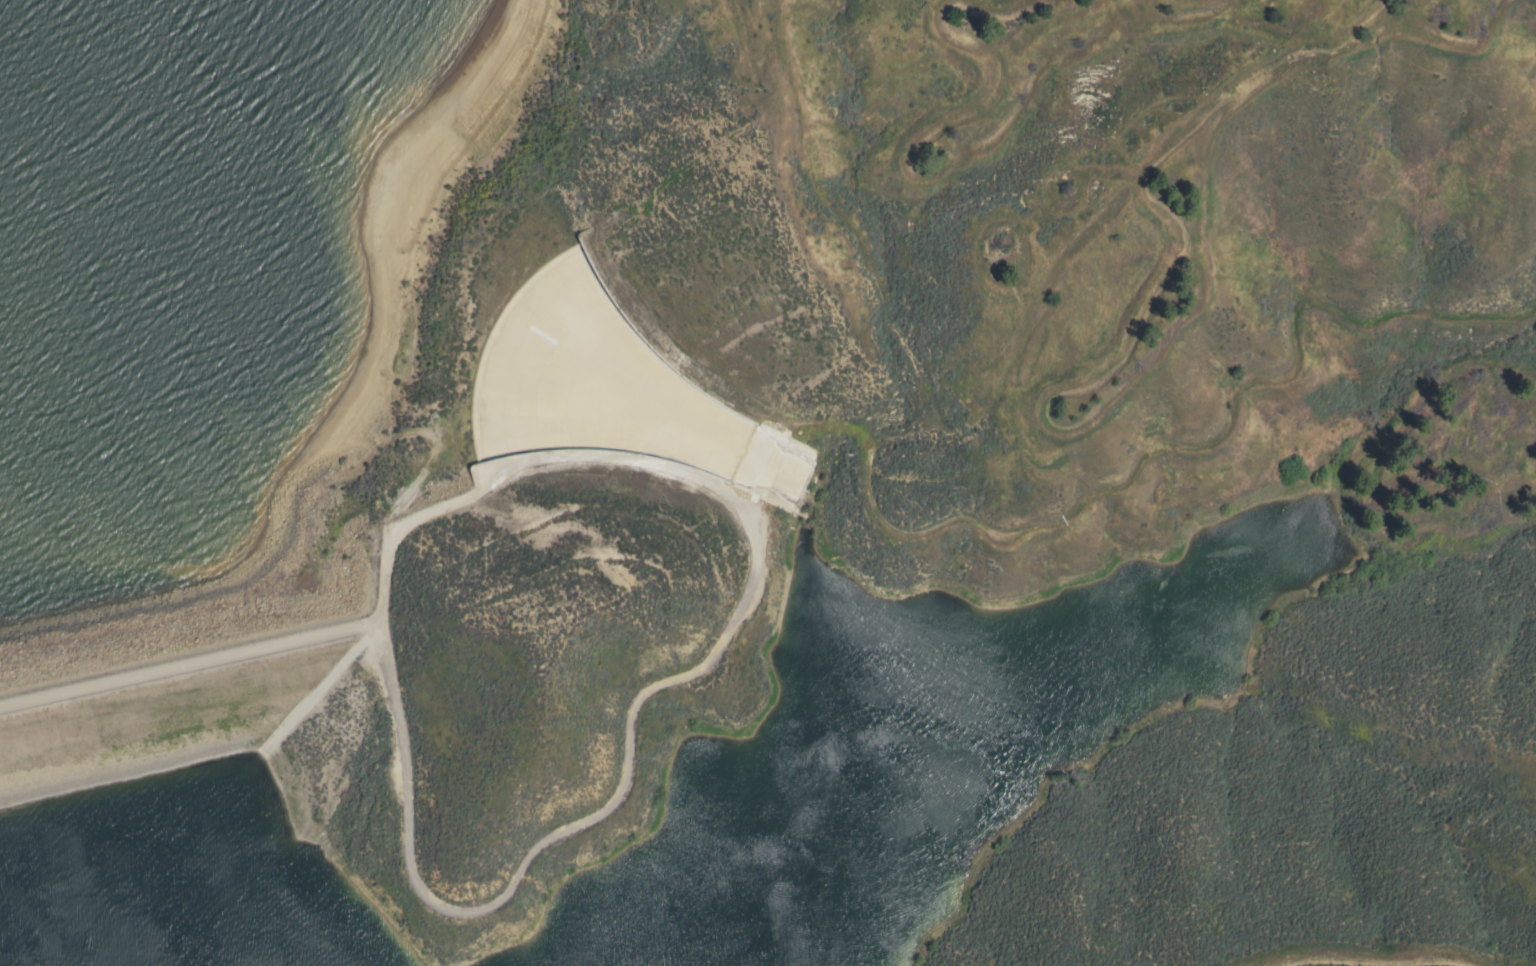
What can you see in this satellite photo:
park: (512, 255)
dam: (196, 653)
road: (193, 669)
road: (684, 676)
park: (1223, 873)

